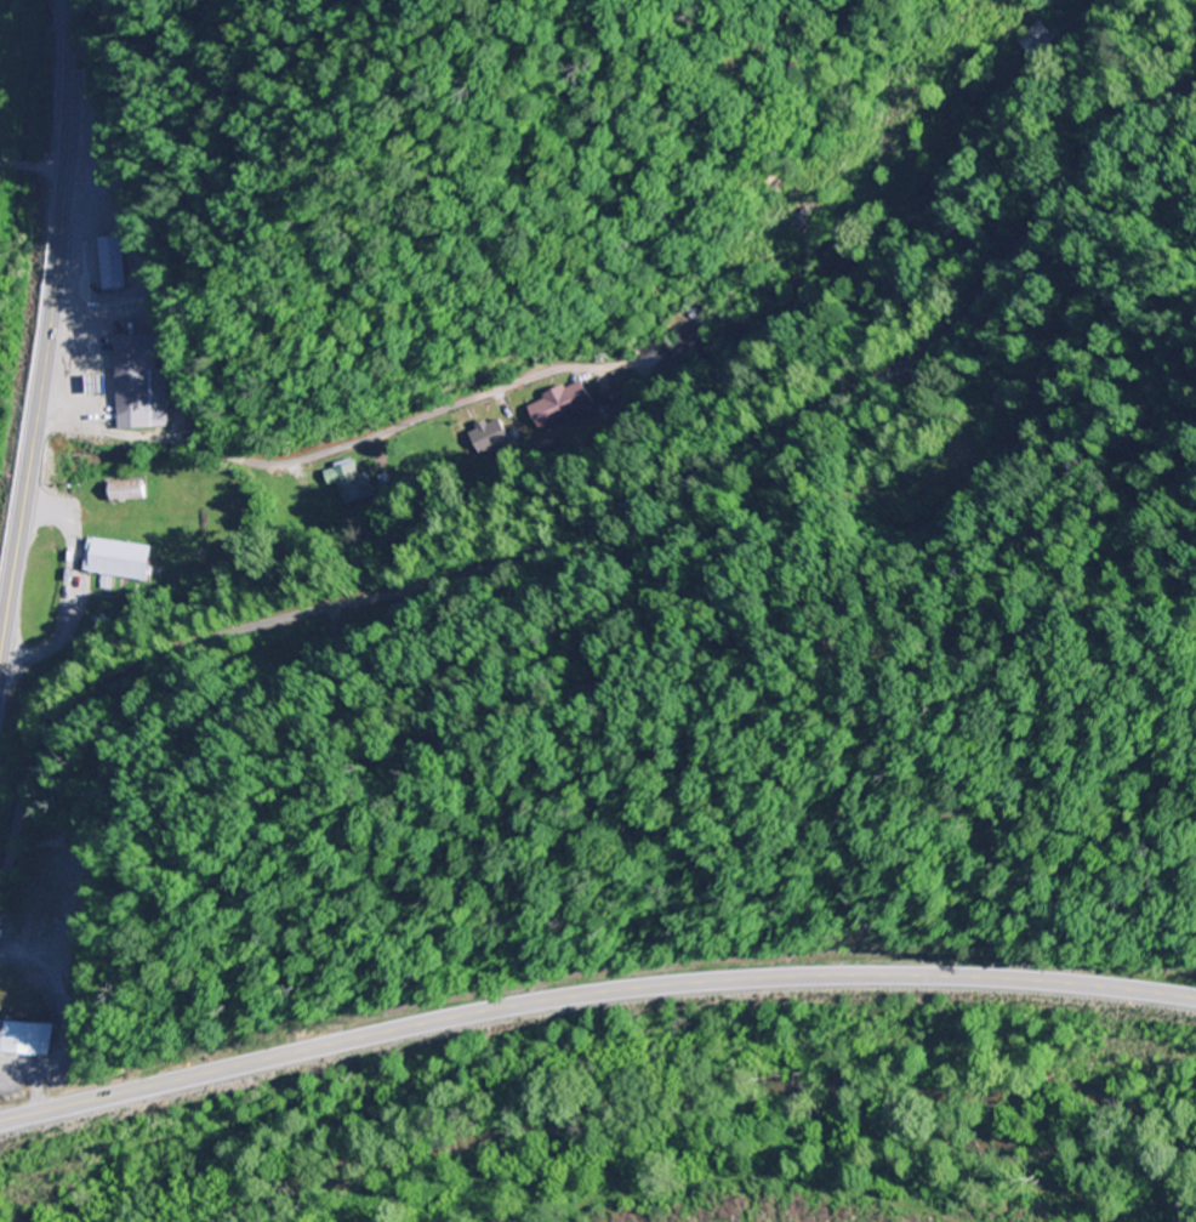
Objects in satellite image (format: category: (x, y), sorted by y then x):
building: (104, 133)
building: (112, 263)
building: (804, 290)
road: (47, 328)
building: (693, 341)
building: (141, 385)
building: (560, 407)
building: (354, 484)
building: (223, 490)
building: (127, 491)
road: (604, 521)
building: (119, 559)
road: (592, 990)
building: (23, 1040)

